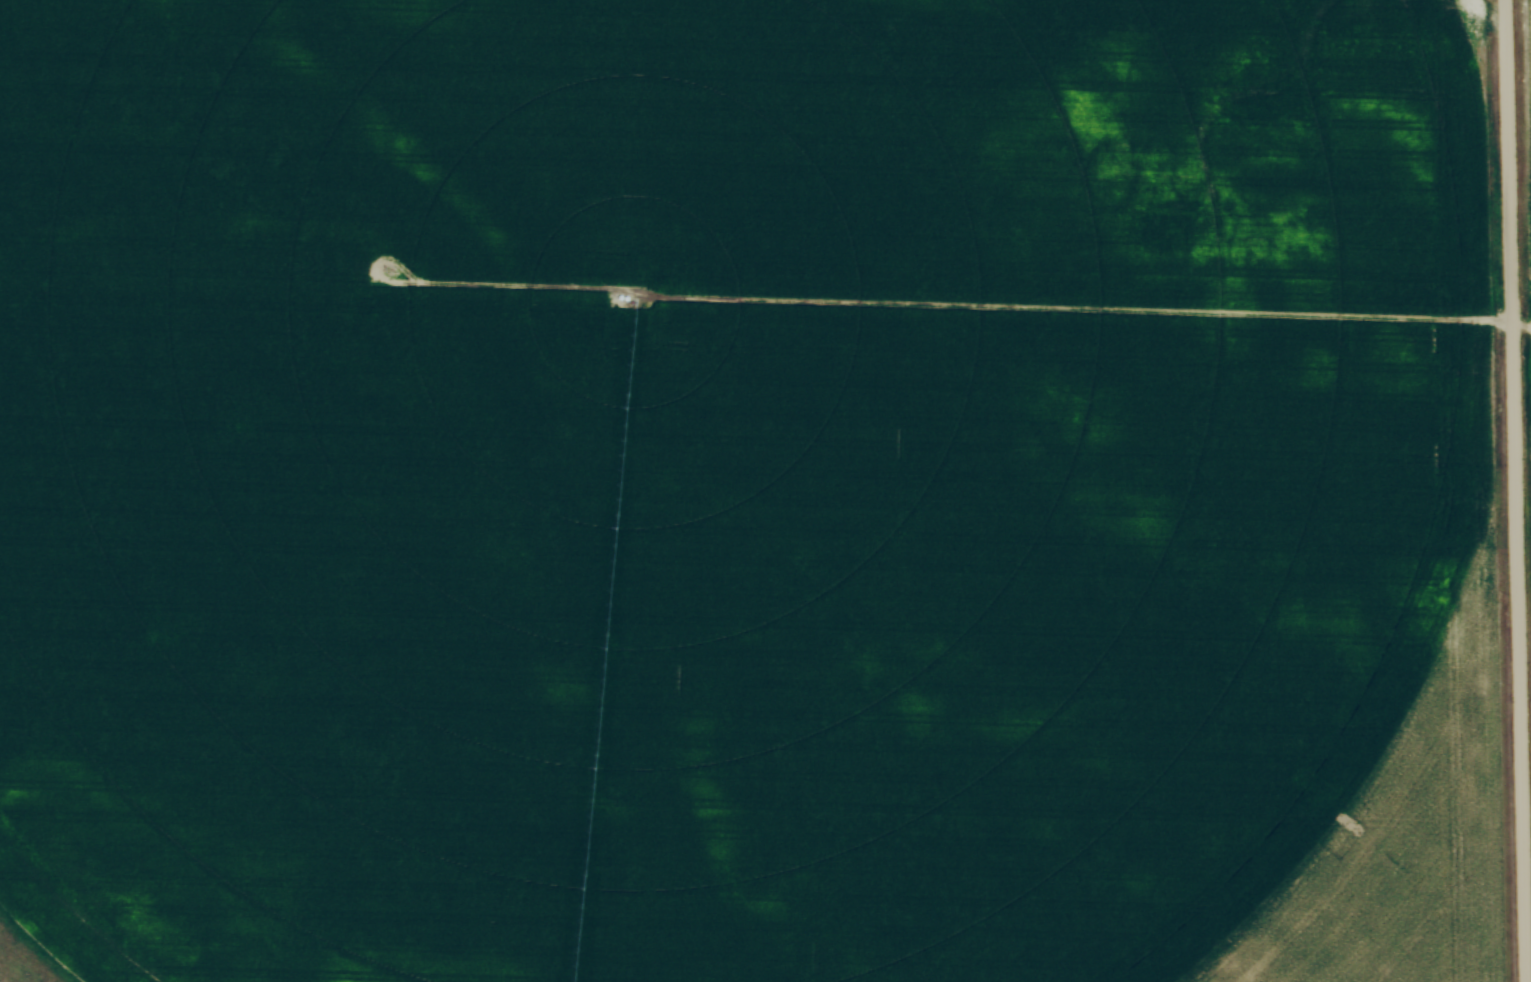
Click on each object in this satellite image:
crop: (712, 477)
road: (1514, 490)

